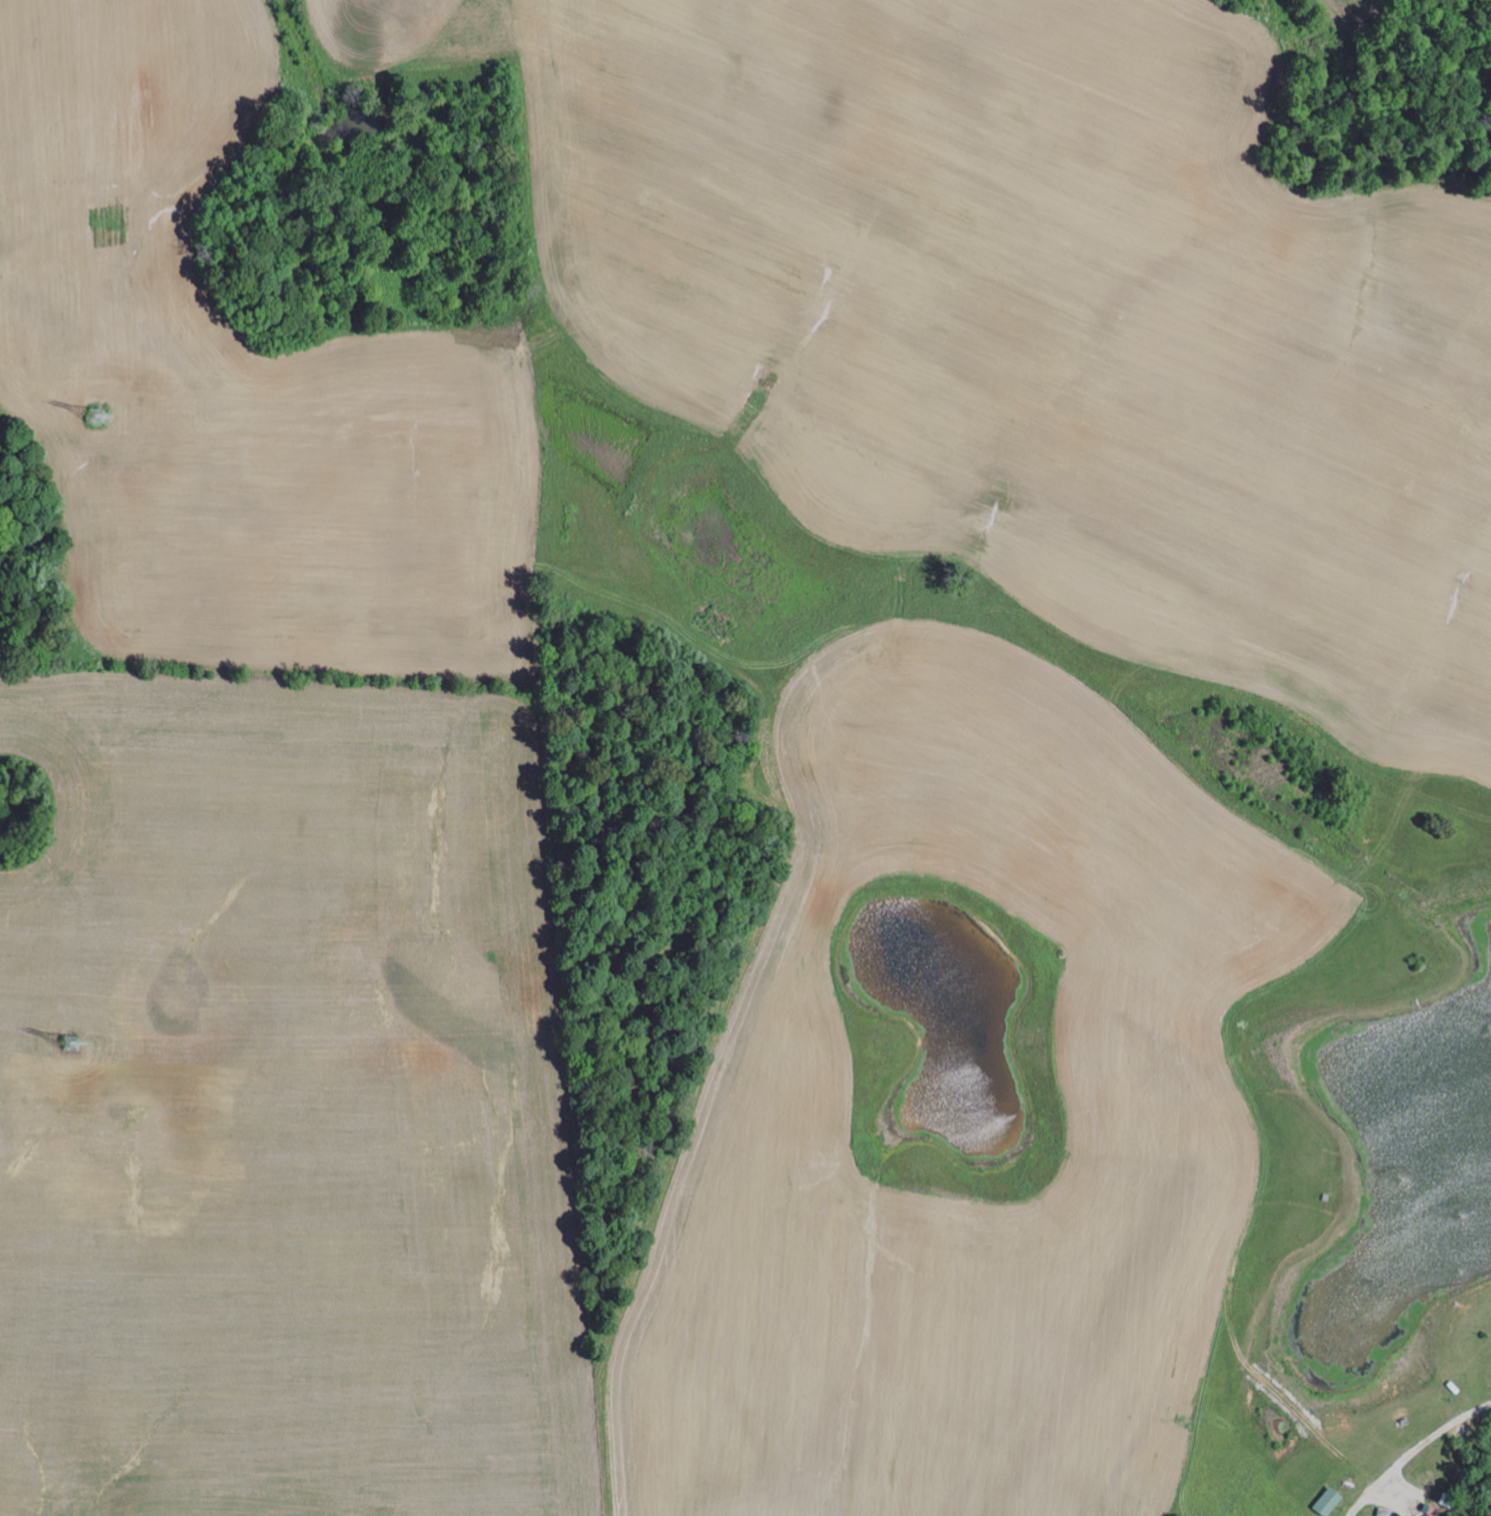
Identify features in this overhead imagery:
power tower: (103, 425)
power tower: (64, 1047)
road: (1411, 1448)
building: (1331, 1501)

